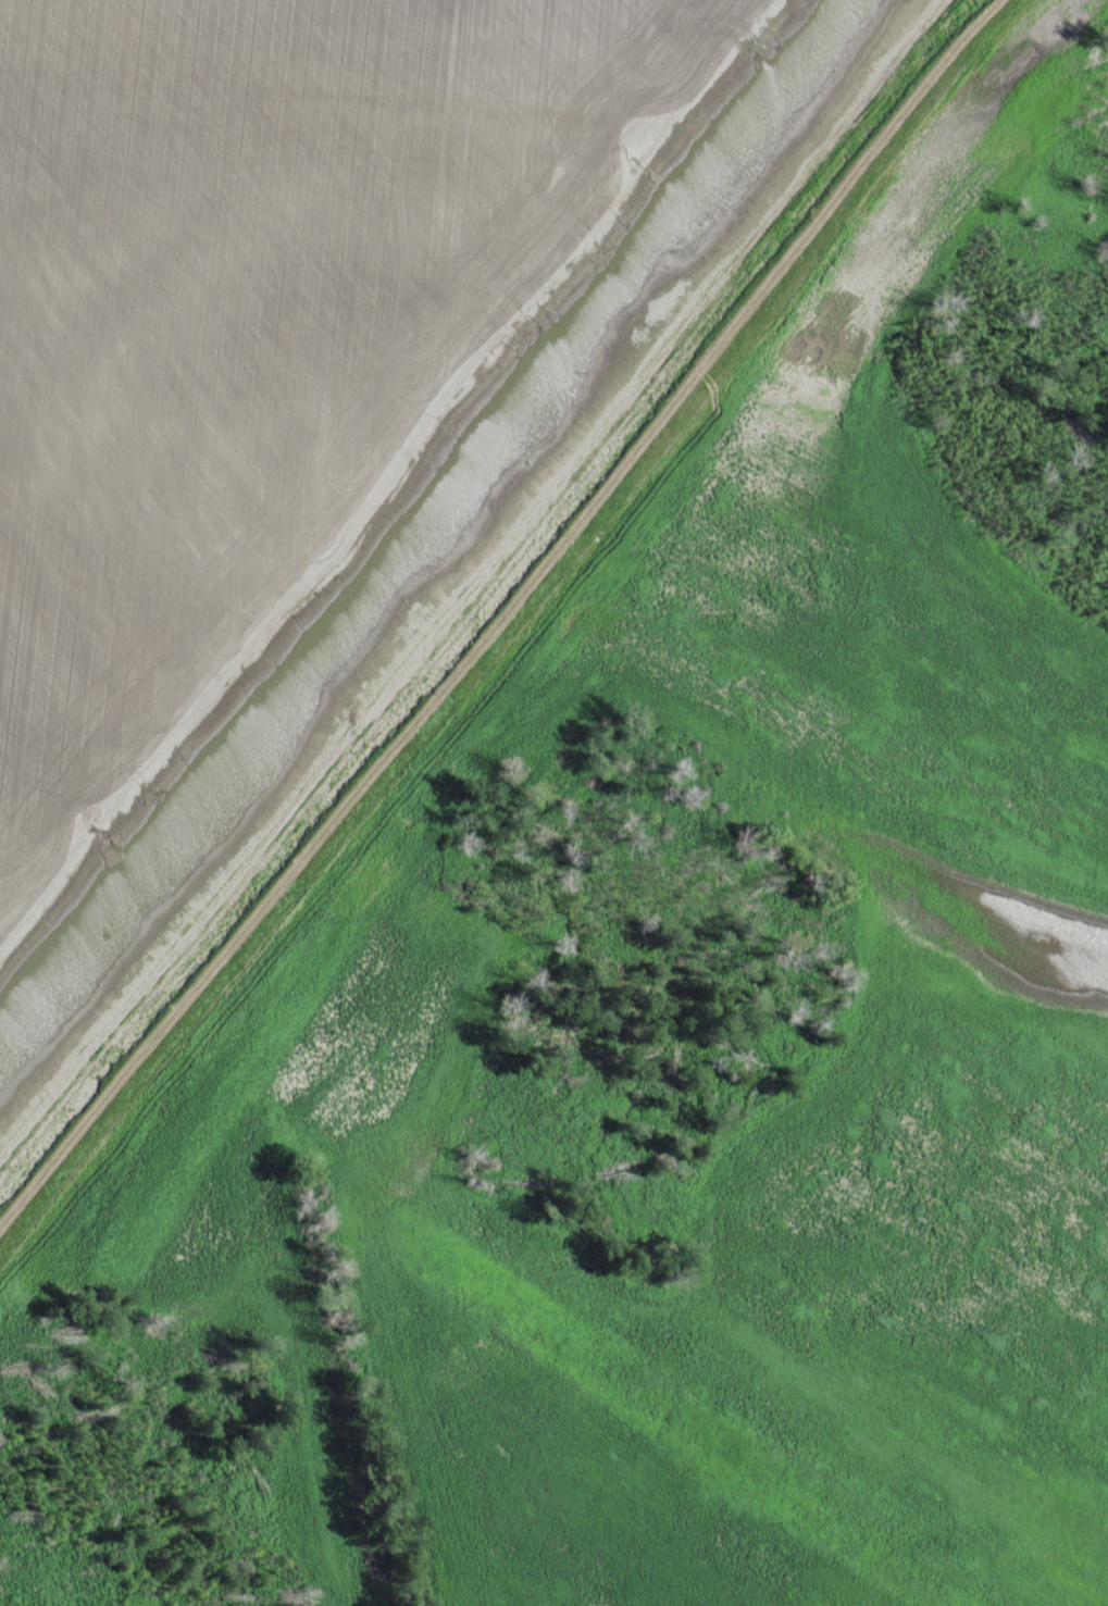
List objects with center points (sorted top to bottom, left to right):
road: (428, 113)
road: (501, 615)

